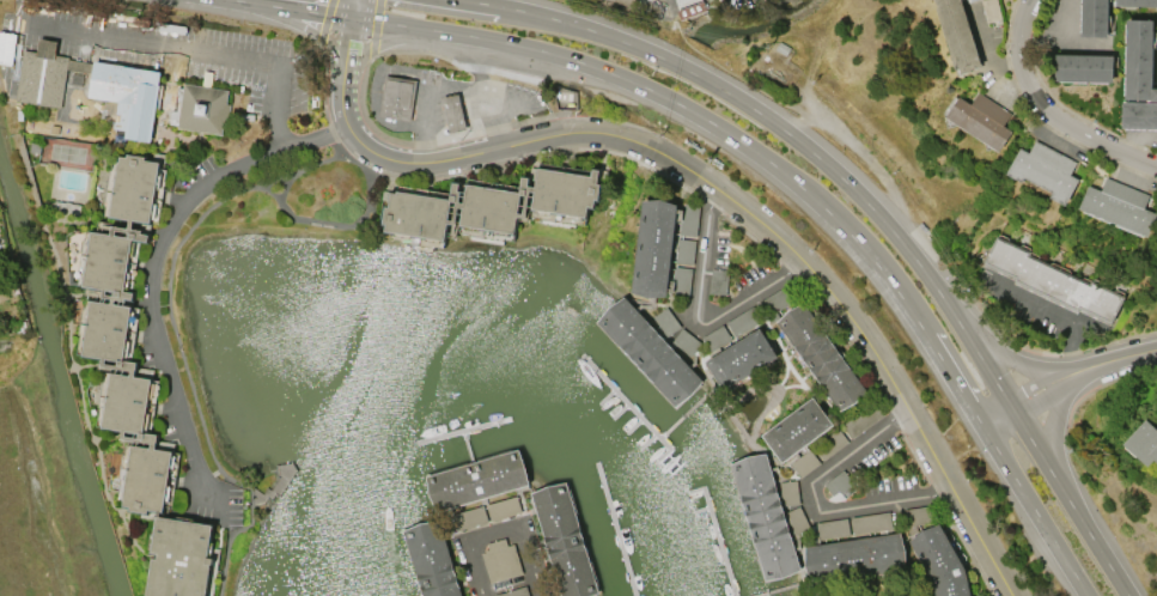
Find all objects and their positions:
road: (236, 0)
road: (479, 2)
building: (1137, 2)
road: (675, 4)
parking lot: (671, 6)
road: (296, 10)
road: (354, 10)
building: (1095, 18)
traffic signals: (352, 19)
road: (413, 29)
building: (958, 35)
road: (348, 43)
road: (188, 51)
building: (1140, 60)
road: (476, 65)
building: (1083, 68)
road: (988, 71)
road: (439, 85)
building: (123, 91)
road: (342, 97)
building: (398, 97)
gas station: (443, 103)
road: (1047, 109)
building: (453, 112)
building: (1139, 114)
building: (982, 120)
road: (735, 136)
road: (802, 140)
road: (1045, 142)
road: (413, 160)
building: (1047, 170)
road: (285, 187)
building: (491, 205)
building: (1120, 206)
road: (337, 224)
building: (654, 242)
road: (153, 260)
road: (817, 274)
building: (1054, 280)
road: (1053, 314)
road: (696, 316)
road: (175, 333)
building: (650, 347)
pier: (647, 353)
building: (821, 353)
building: (741, 354)
road: (1006, 355)
road: (1115, 357)
road: (1040, 378)
road: (956, 379)
building: (140, 389)
road: (1048, 393)
pier: (627, 401)
road: (1012, 405)
road: (995, 410)
pier: (683, 412)
road: (1000, 418)
building: (798, 425)
road: (1051, 427)
pier: (464, 428)
building: (1144, 442)
pier: (467, 443)
pier: (475, 470)
building: (476, 475)
building: (858, 480)
parking lot: (858, 480)
road: (1074, 503)
road: (816, 505)
road: (1036, 510)
building: (765, 512)
pier: (756, 517)
pier: (613, 529)
road: (498, 533)
building: (564, 539)
pier: (719, 541)
building: (854, 554)
pier: (425, 557)
building: (432, 558)
building: (500, 559)
building: (942, 560)
pier: (774, 588)
building: (514, 592)

